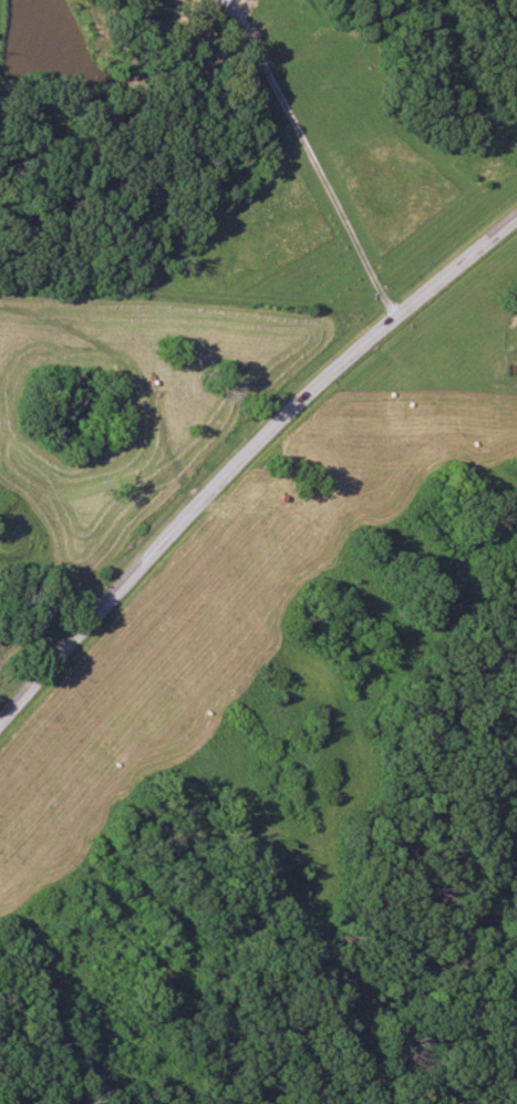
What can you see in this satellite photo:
building: (238, 1)
road: (307, 152)
road: (242, 447)

